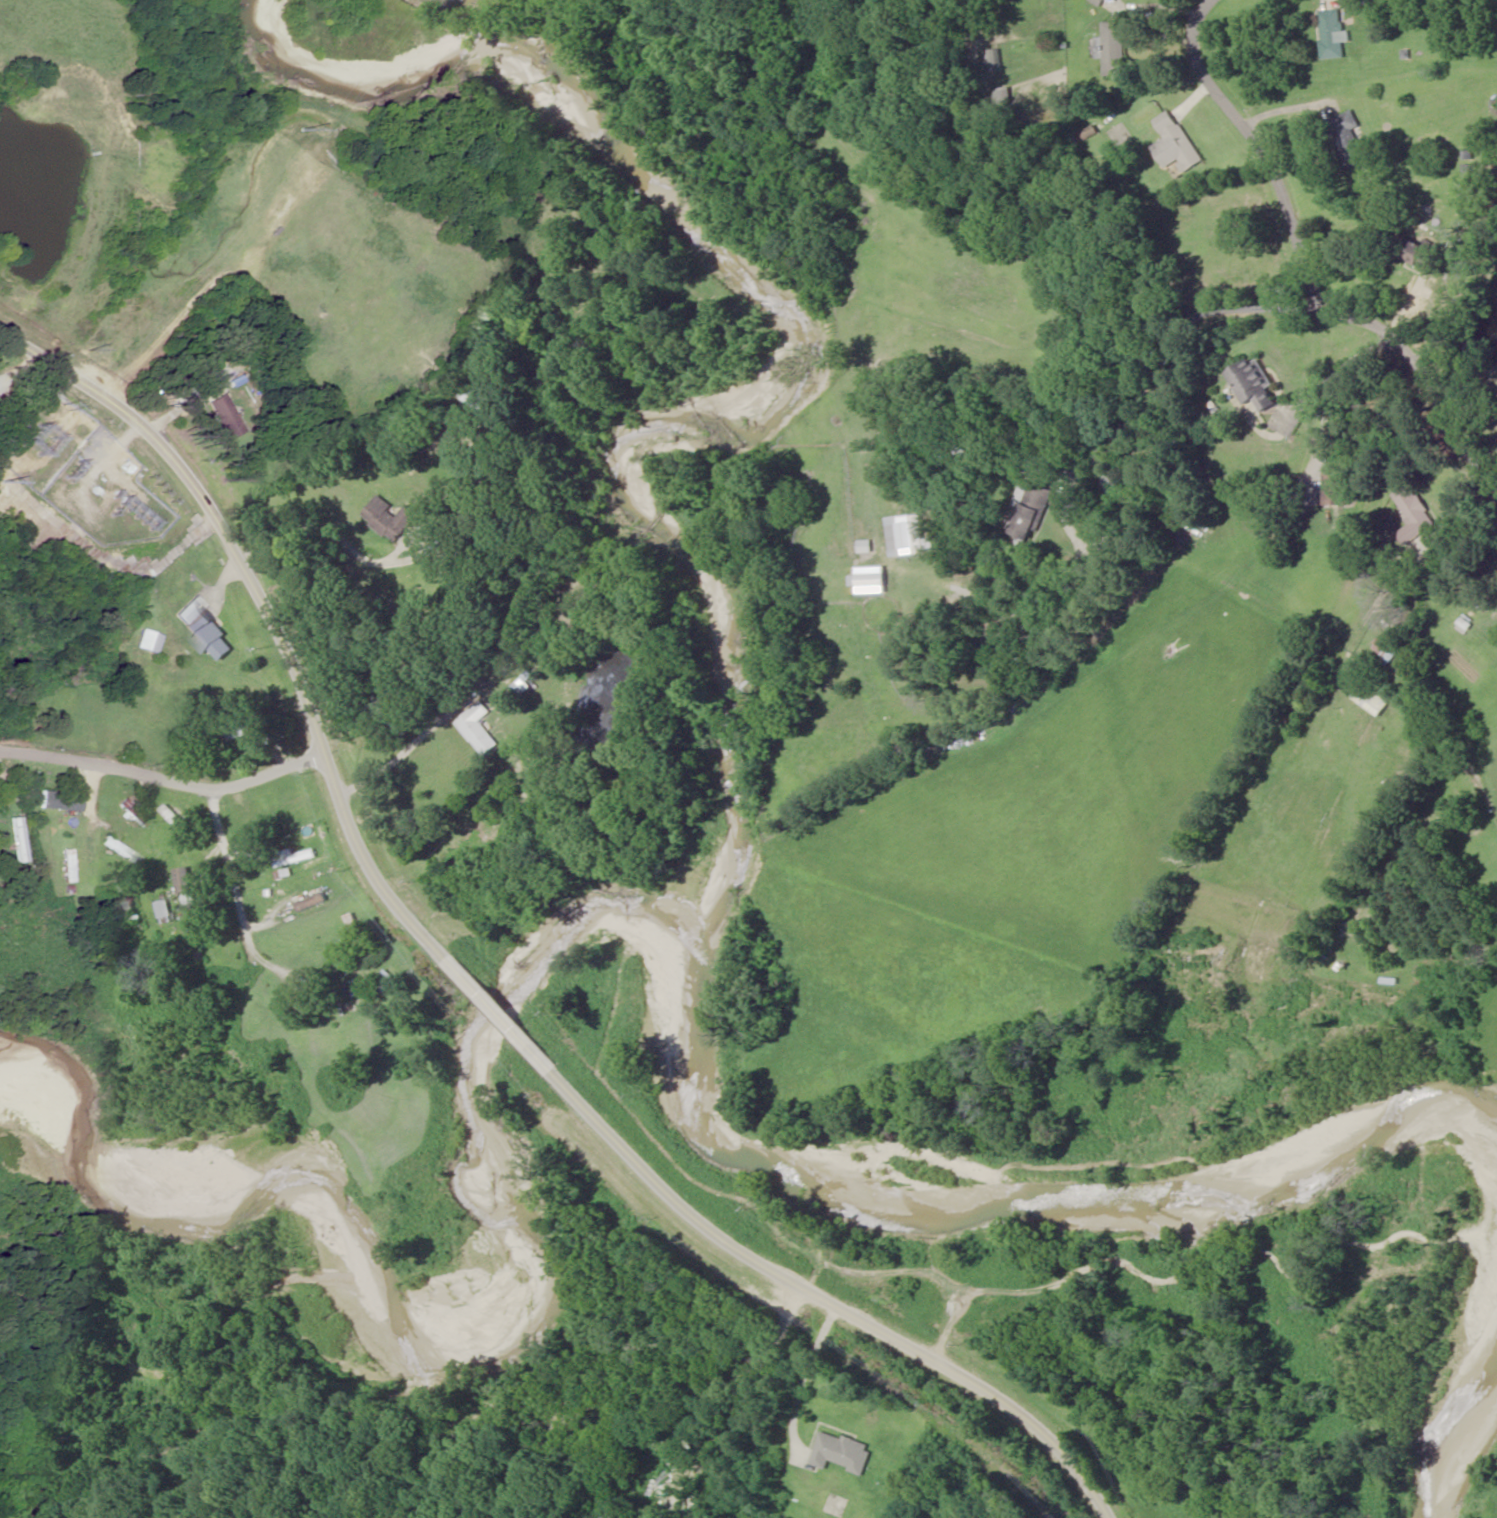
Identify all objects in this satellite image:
building: (1334, 34)
building: (1113, 47)
building: (994, 60)
building: (1005, 94)
building: (1348, 138)
building: (1177, 143)
building: (1420, 254)
road: (1312, 267)
road: (1194, 358)
building: (1254, 383)
building: (482, 397)
power tower: (40, 434)
building: (1335, 489)
building: (1032, 511)
building: (1412, 513)
building: (391, 518)
building: (905, 535)
building: (871, 580)
road: (284, 605)
building: (1462, 619)
building: (203, 629)
building: (146, 641)
building: (1385, 648)
building: (514, 692)
building: (1369, 699)
building: (477, 728)
building: (246, 731)
road: (161, 783)
building: (75, 785)
building: (0, 800)
building: (59, 801)
building: (130, 812)
building: (177, 820)
building: (238, 823)
building: (15, 839)
building: (117, 850)
building: (295, 856)
building: (64, 865)
building: (186, 880)
building: (312, 902)
building: (127, 904)
building: (165, 909)
building: (356, 930)
building: (213, 952)
building: (388, 978)
road: (495, 1013)
road: (825, 1299)
building: (841, 1452)
building: (656, 1491)

